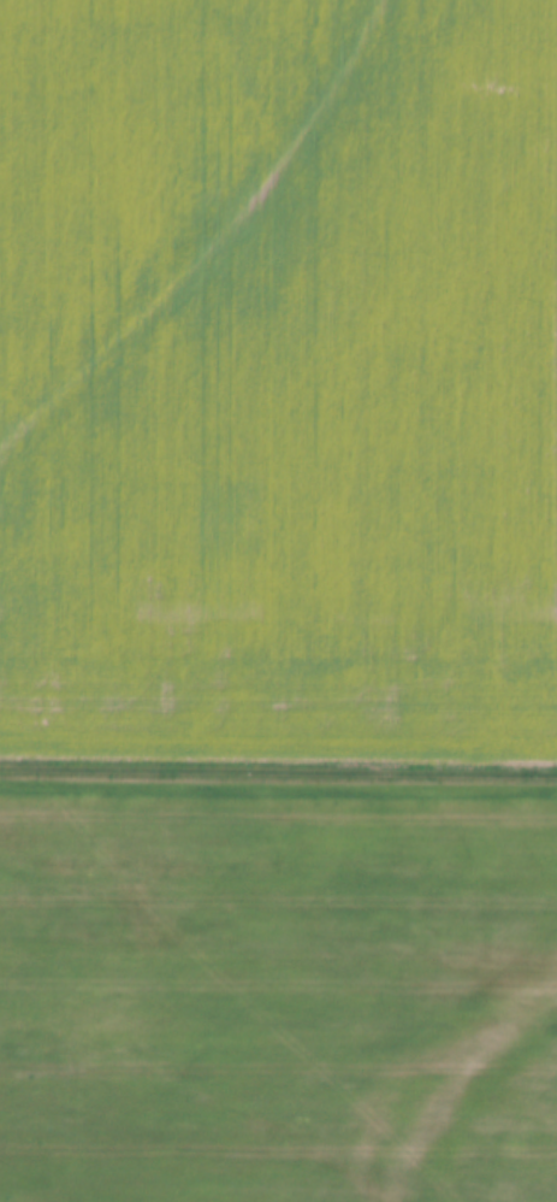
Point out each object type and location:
road: (278, 762)

